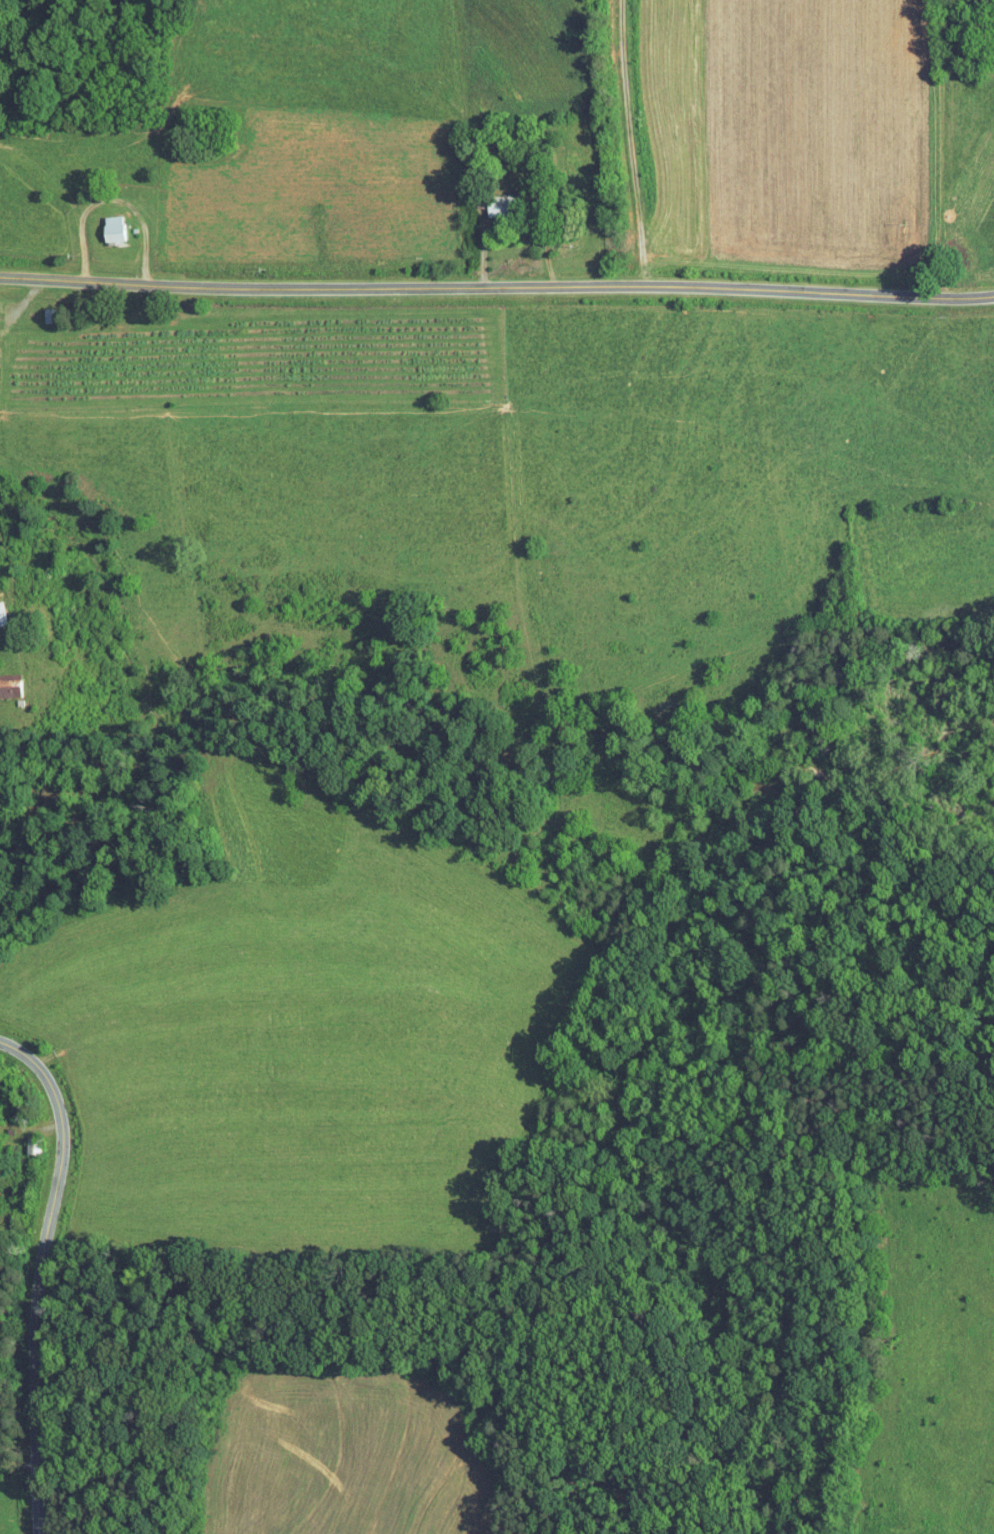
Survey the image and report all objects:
building: (486, 198)
building: (100, 223)
road: (496, 288)
building: (3, 679)
road: (47, 1273)

